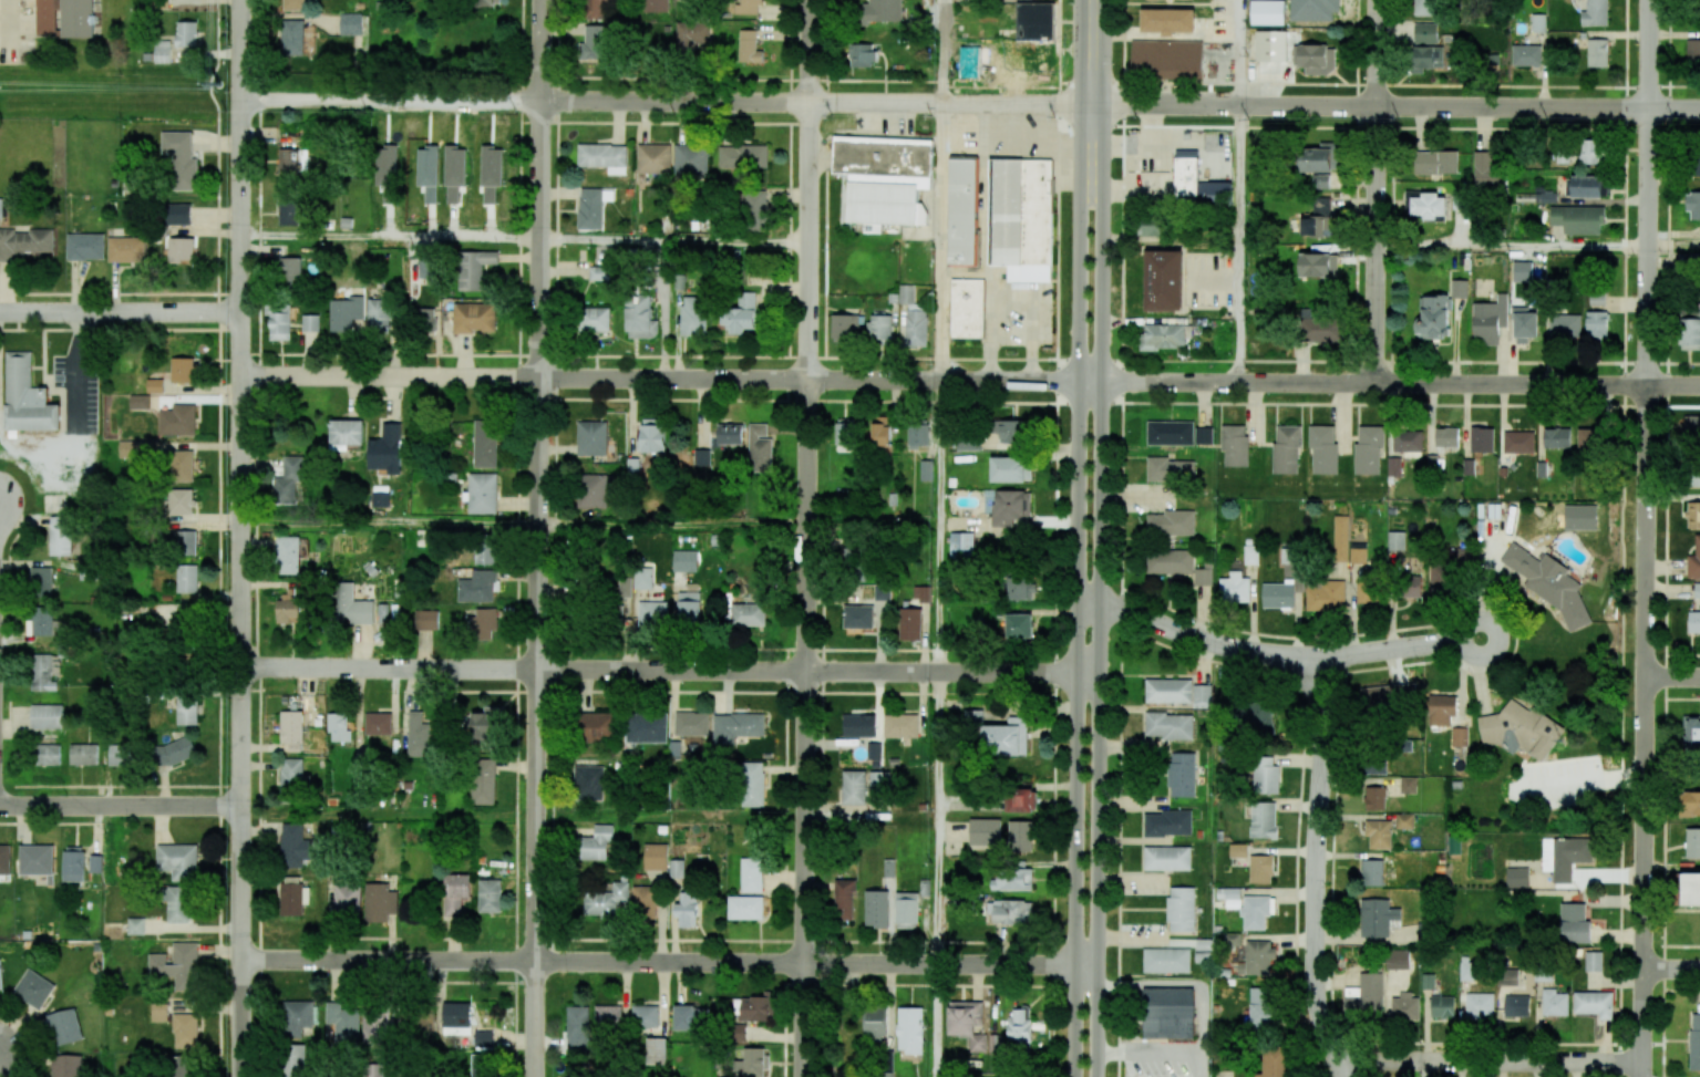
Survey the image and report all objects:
building: (487, 2)
building: (295, 4)
building: (1697, 4)
building: (656, 6)
building: (749, 7)
building: (1425, 7)
building: (596, 9)
building: (882, 11)
building: (1267, 12)
building: (1595, 13)
building: (47, 17)
building: (78, 18)
building: (1167, 20)
building: (1538, 22)
building: (350, 23)
road: (10, 32)
building: (1425, 32)
building: (186, 33)
building: (692, 34)
building: (292, 37)
building: (594, 42)
building: (1271, 45)
building: (749, 46)
building: (1017, 48)
building: (162, 51)
road: (1093, 52)
road: (1240, 52)
building: (1692, 52)
building: (1597, 53)
building: (862, 54)
building: (1526, 55)
building: (1426, 58)
building: (1166, 59)
building: (1317, 60)
power tower: (218, 84)
road: (1379, 84)
road: (666, 101)
road: (1395, 106)
road: (1379, 127)
building: (1590, 152)
building: (743, 156)
building: (604, 157)
building: (691, 157)
building: (181, 158)
building: (653, 158)
building: (1320, 158)
building: (292, 160)
building: (1435, 162)
building: (1696, 164)
building: (429, 170)
building: (1487, 170)
building: (492, 172)
building: (455, 173)
building: (885, 177)
road: (1357, 179)
building: (1196, 180)
building: (1321, 180)
building: (1586, 186)
road: (810, 189)
road: (1377, 190)
road: (1649, 191)
building: (1535, 197)
building: (1693, 204)
building: (1321, 205)
building: (1429, 206)
building: (1, 208)
building: (590, 208)
building: (754, 210)
building: (289, 211)
building: (962, 211)
building: (177, 214)
building: (1577, 218)
building: (1019, 226)
building: (1313, 226)
building: (1153, 227)
road: (525, 238)
building: (24, 242)
road: (1239, 244)
road: (1391, 244)
building: (85, 246)
road: (1512, 246)
road: (1673, 248)
building: (126, 249)
building: (181, 250)
building: (1318, 265)
building: (474, 268)
building: (290, 270)
building: (426, 270)
building: (1522, 271)
building: (599, 273)
building: (1164, 280)
building: (1459, 288)
building: (967, 308)
road: (120, 313)
building: (346, 313)
building: (379, 313)
building: (742, 313)
building: (640, 315)
building: (693, 315)
building: (474, 318)
building: (914, 318)
building: (1433, 318)
building: (595, 319)
building: (1490, 319)
building: (424, 320)
building: (279, 321)
building: (310, 322)
building: (1525, 324)
building: (1596, 324)
building: (1565, 325)
building: (844, 327)
building: (880, 328)
building: (1319, 329)
building: (1690, 333)
building: (1163, 336)
road: (1378, 360)
building: (182, 370)
road: (80, 372)
road: (671, 377)
road: (1374, 383)
road: (1673, 385)
building: (27, 397)
road: (1378, 404)
building: (177, 420)
building: (1691, 426)
building: (346, 432)
building: (729, 433)
building: (1011, 433)
building: (1170, 433)
building: (1203, 433)
building: (918, 434)
building: (653, 435)
building: (845, 435)
building: (1446, 436)
building: (591, 437)
building: (882, 437)
building: (1556, 437)
building: (1408, 439)
building: (1482, 439)
building: (1588, 441)
building: (1518, 442)
building: (968, 443)
building: (485, 444)
building: (1235, 445)
building: (136, 448)
building: (760, 448)
building: (1286, 448)
building: (1369, 448)
building: (385, 449)
building: (1323, 449)
building: (702, 456)
building: (182, 465)
building: (1395, 466)
building: (1011, 468)
building: (1170, 469)
building: (1693, 477)
building: (288, 479)
building: (591, 490)
building: (482, 493)
building: (380, 496)
building: (182, 501)
building: (1012, 507)
building: (1692, 514)
building: (1171, 522)
road: (390, 524)
road: (673, 526)
building: (61, 536)
road: (240, 538)
road: (538, 538)
road: (940, 538)
road: (1054, 538)
road: (1121, 538)
building: (1341, 538)
road: (1621, 538)
road: (1666, 538)
building: (1397, 540)
building: (182, 542)
building: (960, 546)
building: (485, 549)
building: (1358, 551)
building: (288, 555)
building: (1459, 555)
building: (1694, 559)
building: (684, 560)
building: (1168, 561)
building: (1595, 571)
building: (1203, 576)
building: (186, 578)
building: (642, 578)
building: (1438, 579)
building: (41, 581)
building: (1548, 583)
building: (1409, 586)
building: (477, 587)
building: (625, 587)
building: (1022, 588)
building: (1234, 588)
road: (1079, 590)
road: (1101, 590)
building: (1697, 590)
building: (882, 592)
building: (1370, 592)
building: (921, 593)
building: (1277, 594)
building: (1325, 596)
building: (352, 605)
building: (689, 607)
building: (288, 608)
building: (653, 613)
building: (748, 614)
building: (857, 617)
building: (426, 619)
building: (1693, 621)
building: (484, 622)
building: (909, 623)
building: (43, 624)
building: (1019, 625)
road: (1194, 636)
road: (1515, 638)
road: (1398, 648)
road: (1682, 654)
road: (670, 670)
building: (41, 673)
road: (1672, 677)
building: (1167, 691)
building: (1388, 694)
building: (1202, 696)
road: (1682, 698)
building: (186, 710)
building: (1441, 710)
building: (47, 716)
building: (973, 716)
building: (1257, 716)
building: (486, 718)
building: (378, 723)
building: (691, 723)
building: (859, 725)
building: (900, 725)
building: (1168, 725)
building: (338, 726)
building: (597, 726)
building: (736, 726)
building: (647, 727)
road: (805, 727)
building: (292, 729)
building: (1521, 729)
road: (1644, 731)
building: (419, 733)
building: (1692, 733)
building: (1459, 736)
building: (1006, 737)
building: (874, 750)
building: (174, 752)
building: (45, 754)
building: (83, 754)
building: (121, 755)
building: (1376, 766)
building: (1181, 774)
building: (1266, 776)
building: (293, 777)
building: (878, 780)
building: (483, 781)
road: (1578, 781)
building: (589, 783)
building: (752, 784)
building: (1408, 785)
building: (853, 787)
building: (1376, 798)
building: (1022, 801)
building: (1690, 804)
road: (120, 805)
building: (1263, 819)
building: (1404, 820)
building: (1168, 822)
building: (985, 831)
building: (1378, 833)
building: (1021, 836)
building: (1692, 842)
building: (596, 843)
building: (1454, 843)
building: (293, 846)
building: (1238, 850)
building: (1565, 856)
building: (656, 857)
building: (1166, 858)
building: (6, 859)
building: (37, 859)
building: (178, 860)
building: (95, 862)
building: (73, 863)
building: (677, 868)
building: (1260, 869)
road: (1316, 869)
building: (1372, 872)
building: (751, 874)
road: (1331, 876)
building: (1517, 878)
building: (1013, 879)
road: (1295, 879)
building: (1690, 889)
building: (456, 892)
building: (490, 895)
building: (291, 899)
building: (347, 899)
building: (844, 900)
building: (608, 901)
building: (379, 902)
building: (645, 903)
building: (178, 904)
building: (745, 908)
building: (876, 908)
building: (1181, 908)
building: (906, 910)
building: (1010, 911)
building: (1255, 911)
building: (1377, 917)
building: (1574, 923)
building: (136, 925)
building: (1234, 939)
road: (1681, 945)
building: (1259, 957)
building: (1398, 959)
building: (1166, 960)
building: (1594, 961)
road: (669, 962)
building: (177, 965)
building: (1466, 969)
road: (1671, 969)
building: (0, 975)
building: (1507, 976)
road: (1185, 984)
building: (33, 988)
road: (1681, 988)
building: (1364, 995)
building: (1554, 1002)
building: (1594, 1003)
building: (1479, 1005)
building: (1516, 1005)
building: (1404, 1006)
building: (1442, 1006)
building: (1263, 1007)
building: (755, 1008)
building: (158, 1012)
building: (1166, 1013)
building: (297, 1016)
building: (608, 1016)
building: (645, 1016)
building: (690, 1017)
building: (456, 1018)
building: (344, 1021)
building: (875, 1023)
building: (967, 1023)
building: (1020, 1025)
building: (64, 1026)
building: (377, 1026)
building: (577, 1027)
building: (909, 1029)
building: (185, 1031)
building: (739, 1032)
building: (483, 1038)
building: (1694, 1040)
road: (1502, 1043)
building: (656, 1050)
road: (1163, 1052)
building: (292, 1060)
parking lot: (1167, 1060)
road: (1490, 1062)
building: (752, 1063)
building: (1276, 1064)
building: (66, 1065)
building: (481, 1065)
building: (182, 1066)
building: (885, 1066)
building: (372, 1069)

